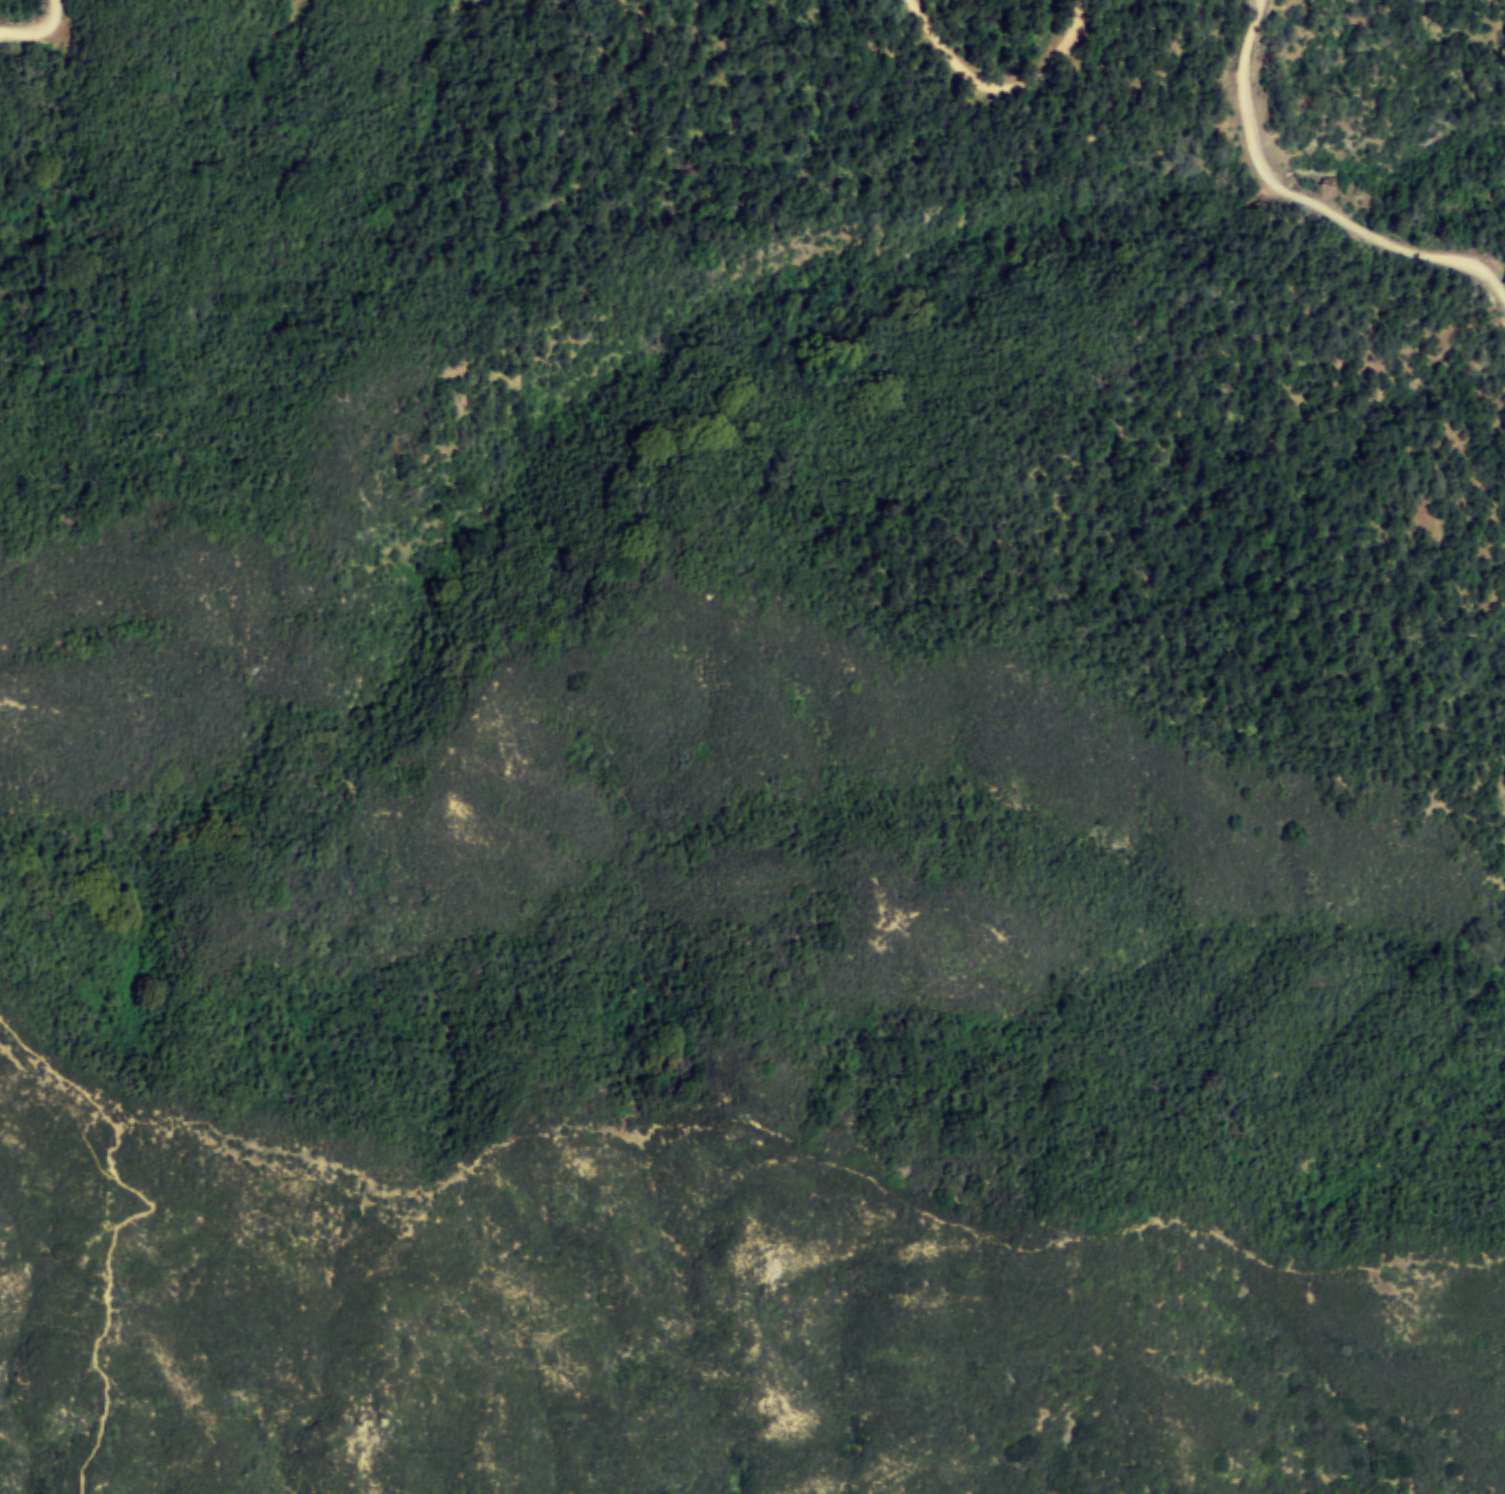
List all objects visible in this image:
road: (37, 29)
road: (996, 90)
road: (1302, 203)
road: (129, 1223)

